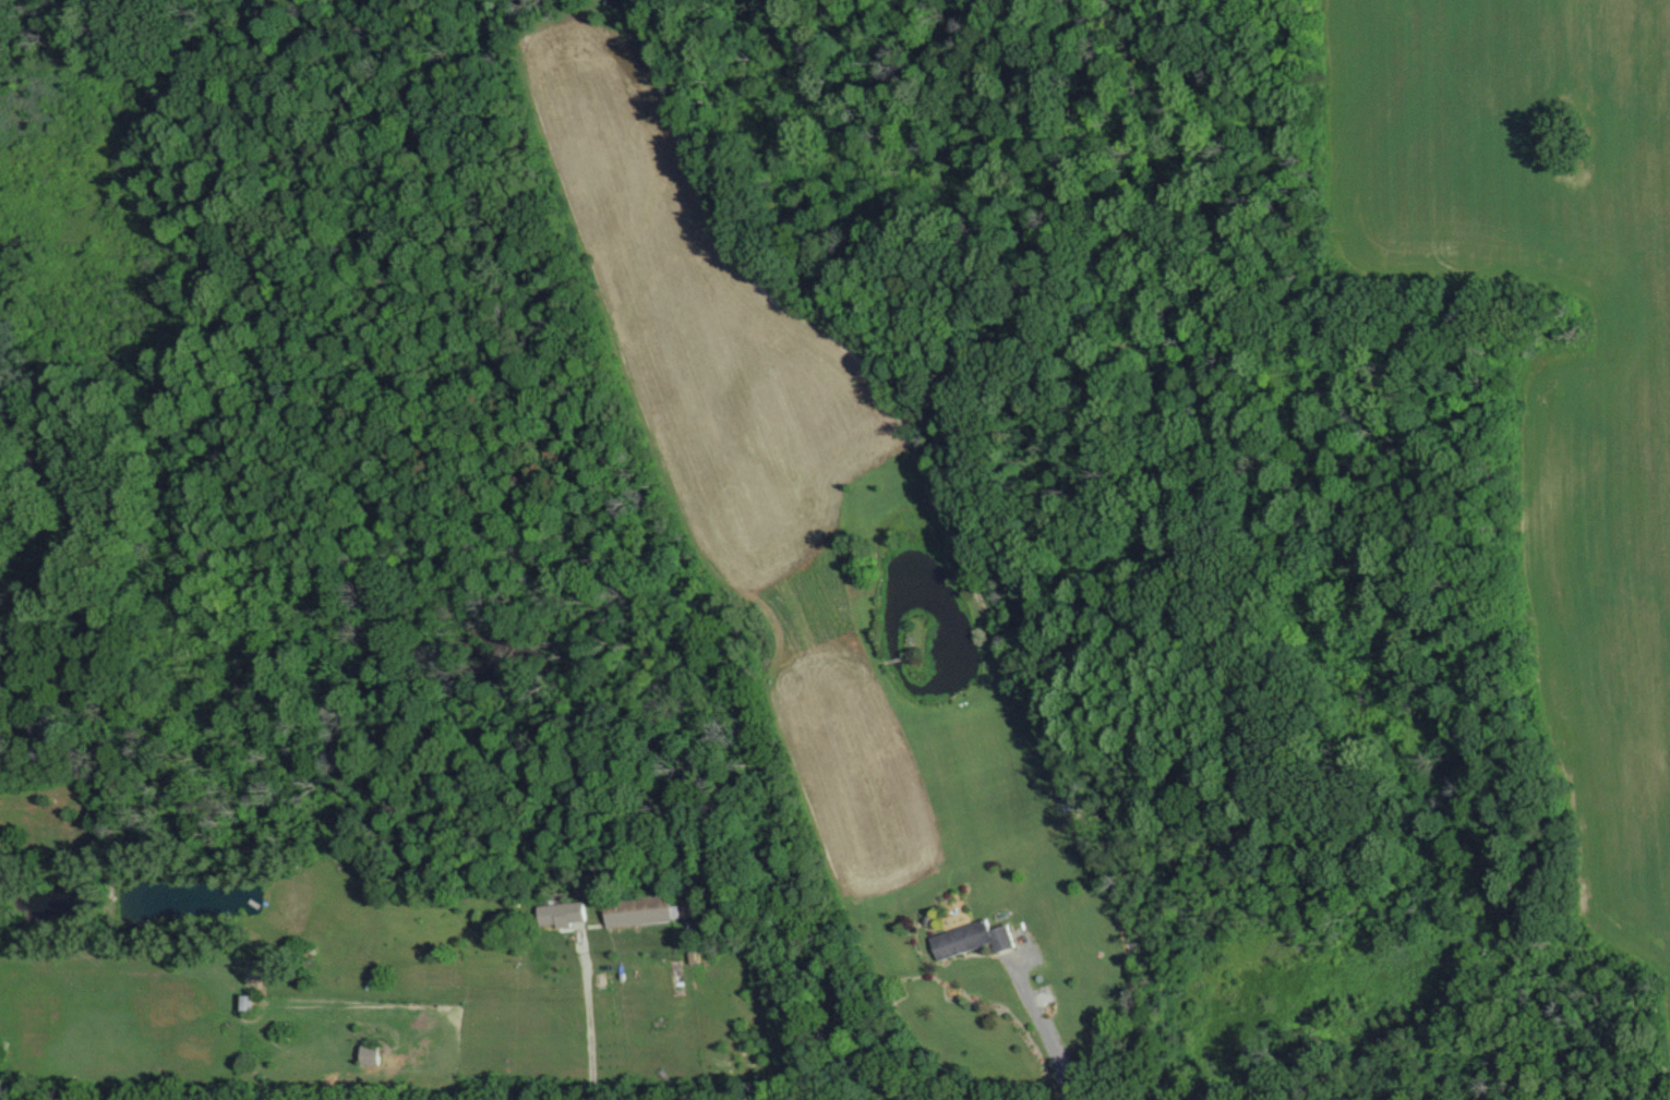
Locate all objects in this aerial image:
building: (642, 909)
building: (568, 914)
building: (975, 939)
building: (249, 1003)
road: (593, 1022)
road: (1045, 1028)

